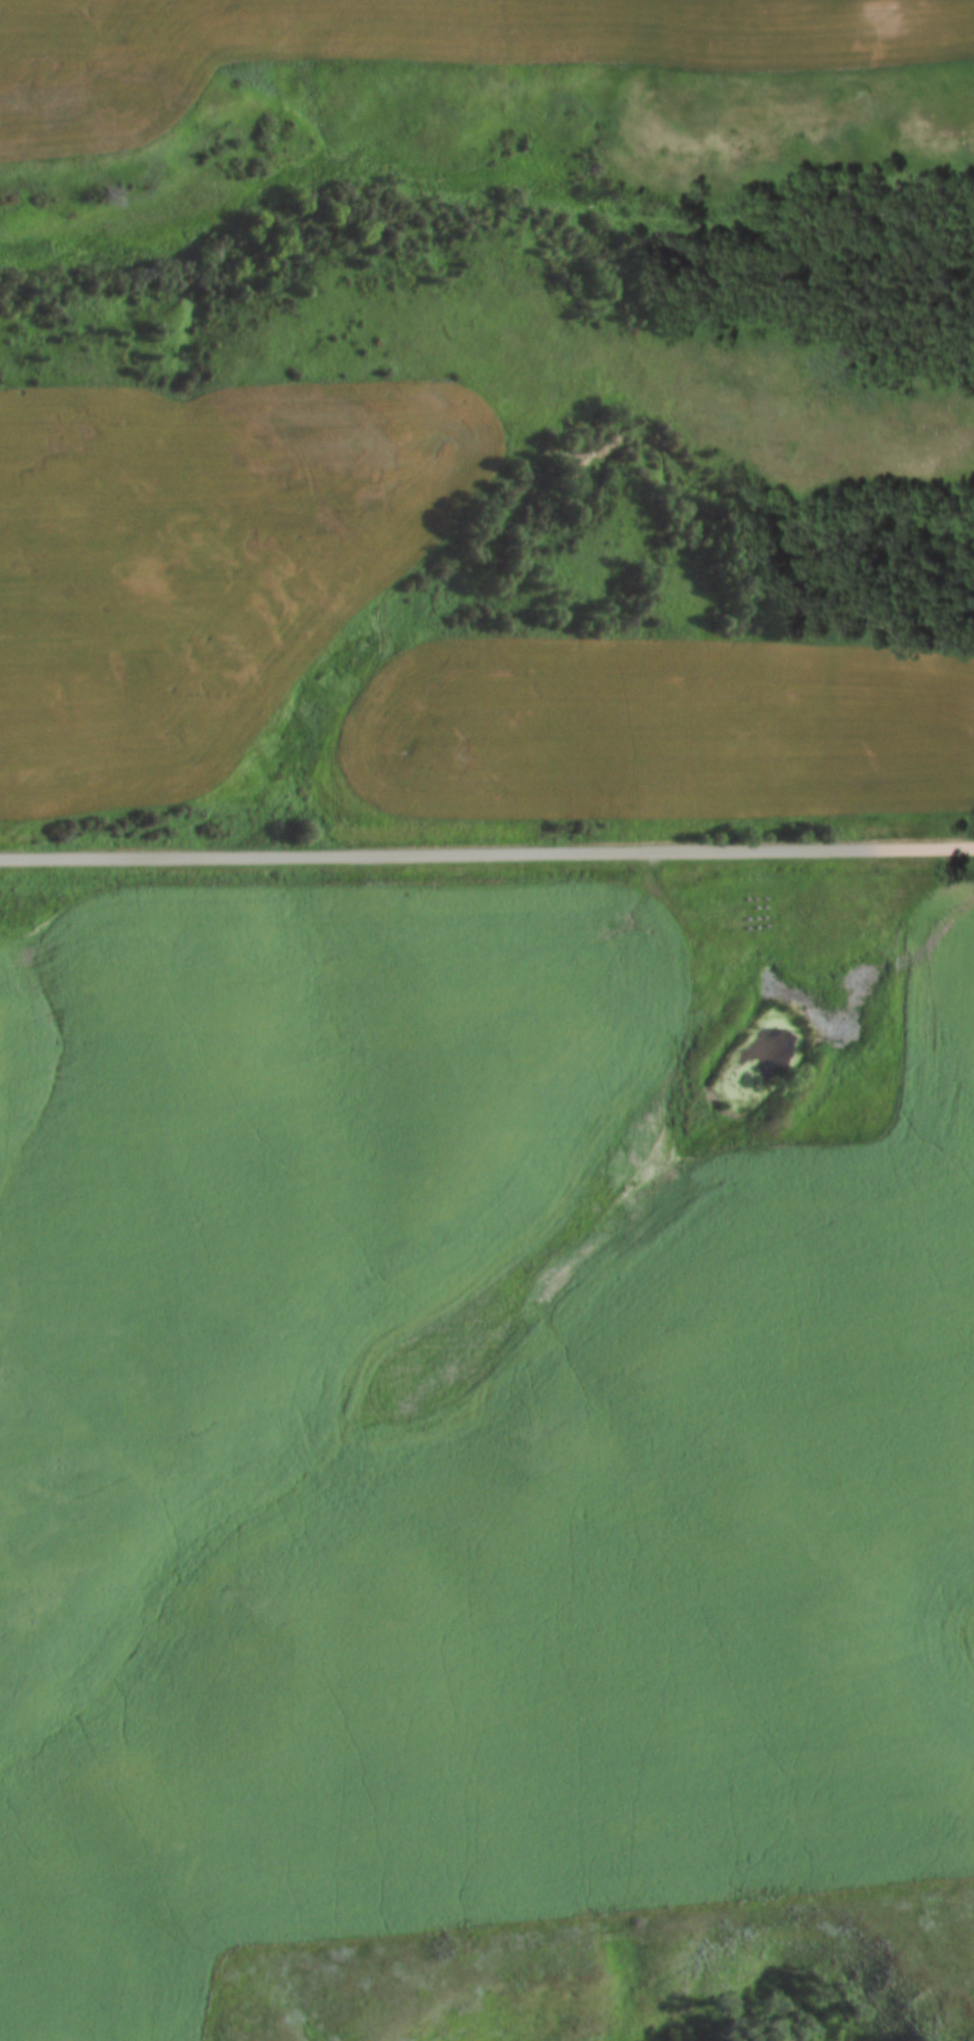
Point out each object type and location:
road: (487, 855)

